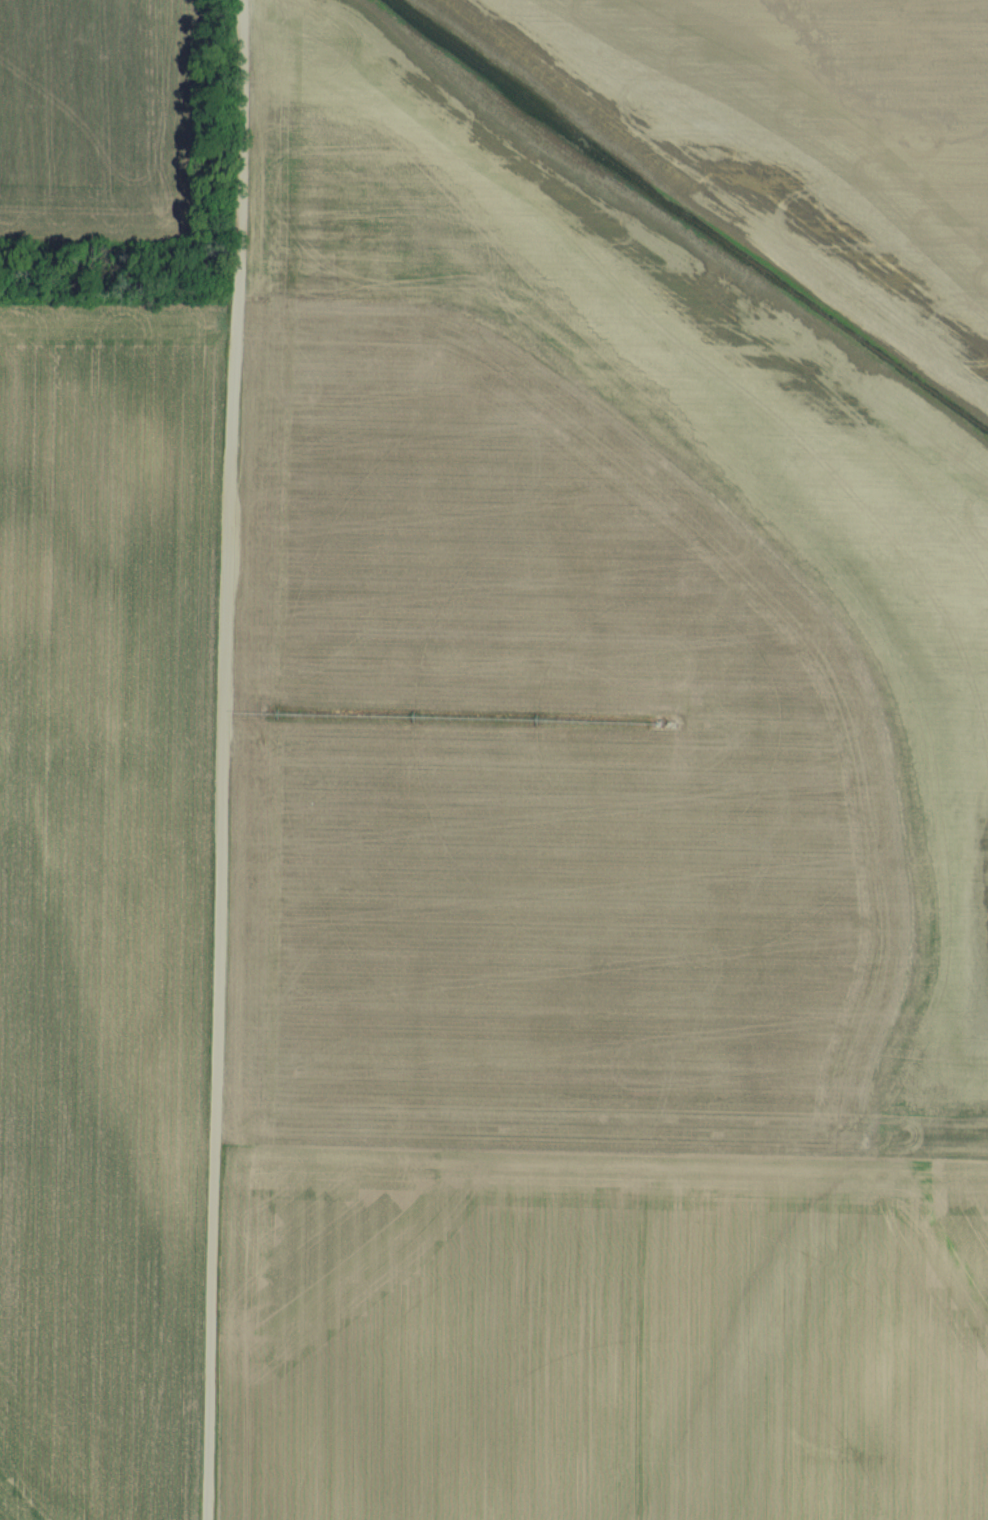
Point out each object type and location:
road: (221, 759)

